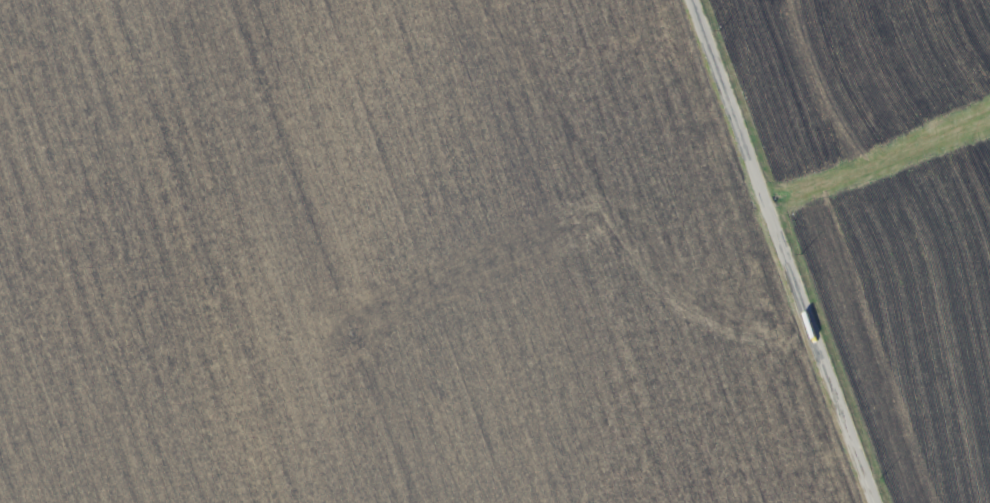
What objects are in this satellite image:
road: (780, 251)

